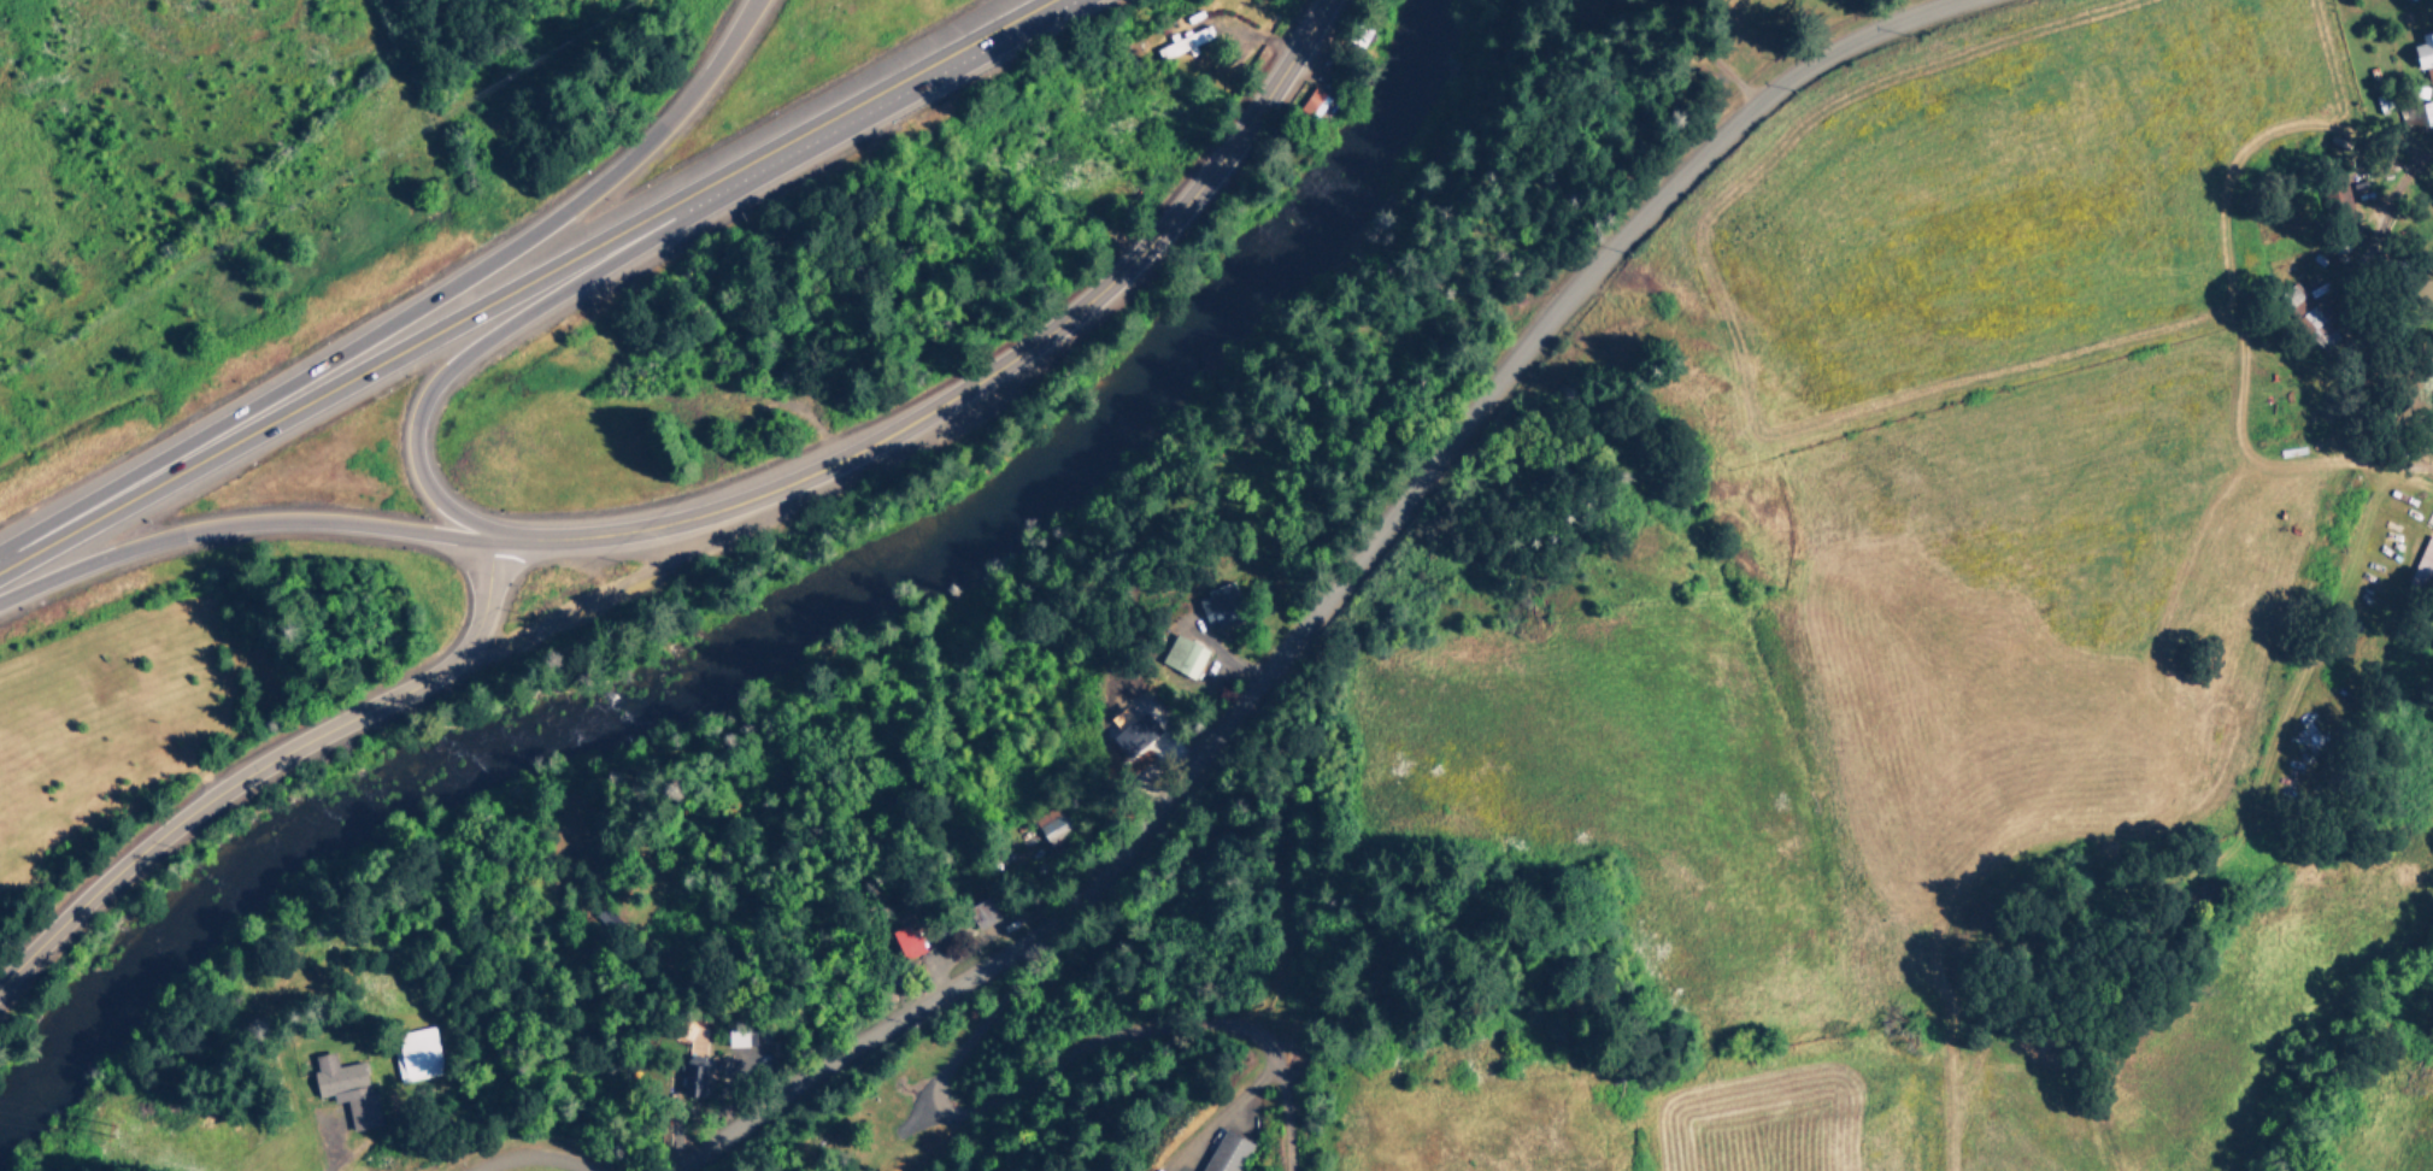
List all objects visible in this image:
park: (1699, 30)
building: (1186, 43)
building: (2425, 53)
road: (907, 76)
building: (1324, 106)
building: (2417, 116)
building: (2339, 199)
road: (407, 312)
road: (516, 319)
building: (2320, 328)
road: (383, 361)
road: (980, 379)
road: (242, 523)
building: (2425, 564)
road: (1327, 590)
river: (777, 631)
crop: (1822, 643)
building: (1183, 658)
road: (268, 765)
building: (1057, 834)
building: (985, 914)
building: (907, 943)
building: (416, 1055)
road: (1054, 1064)
building: (692, 1082)
building: (348, 1089)
building: (1227, 1153)
road: (531, 1157)
road: (335, 1158)

